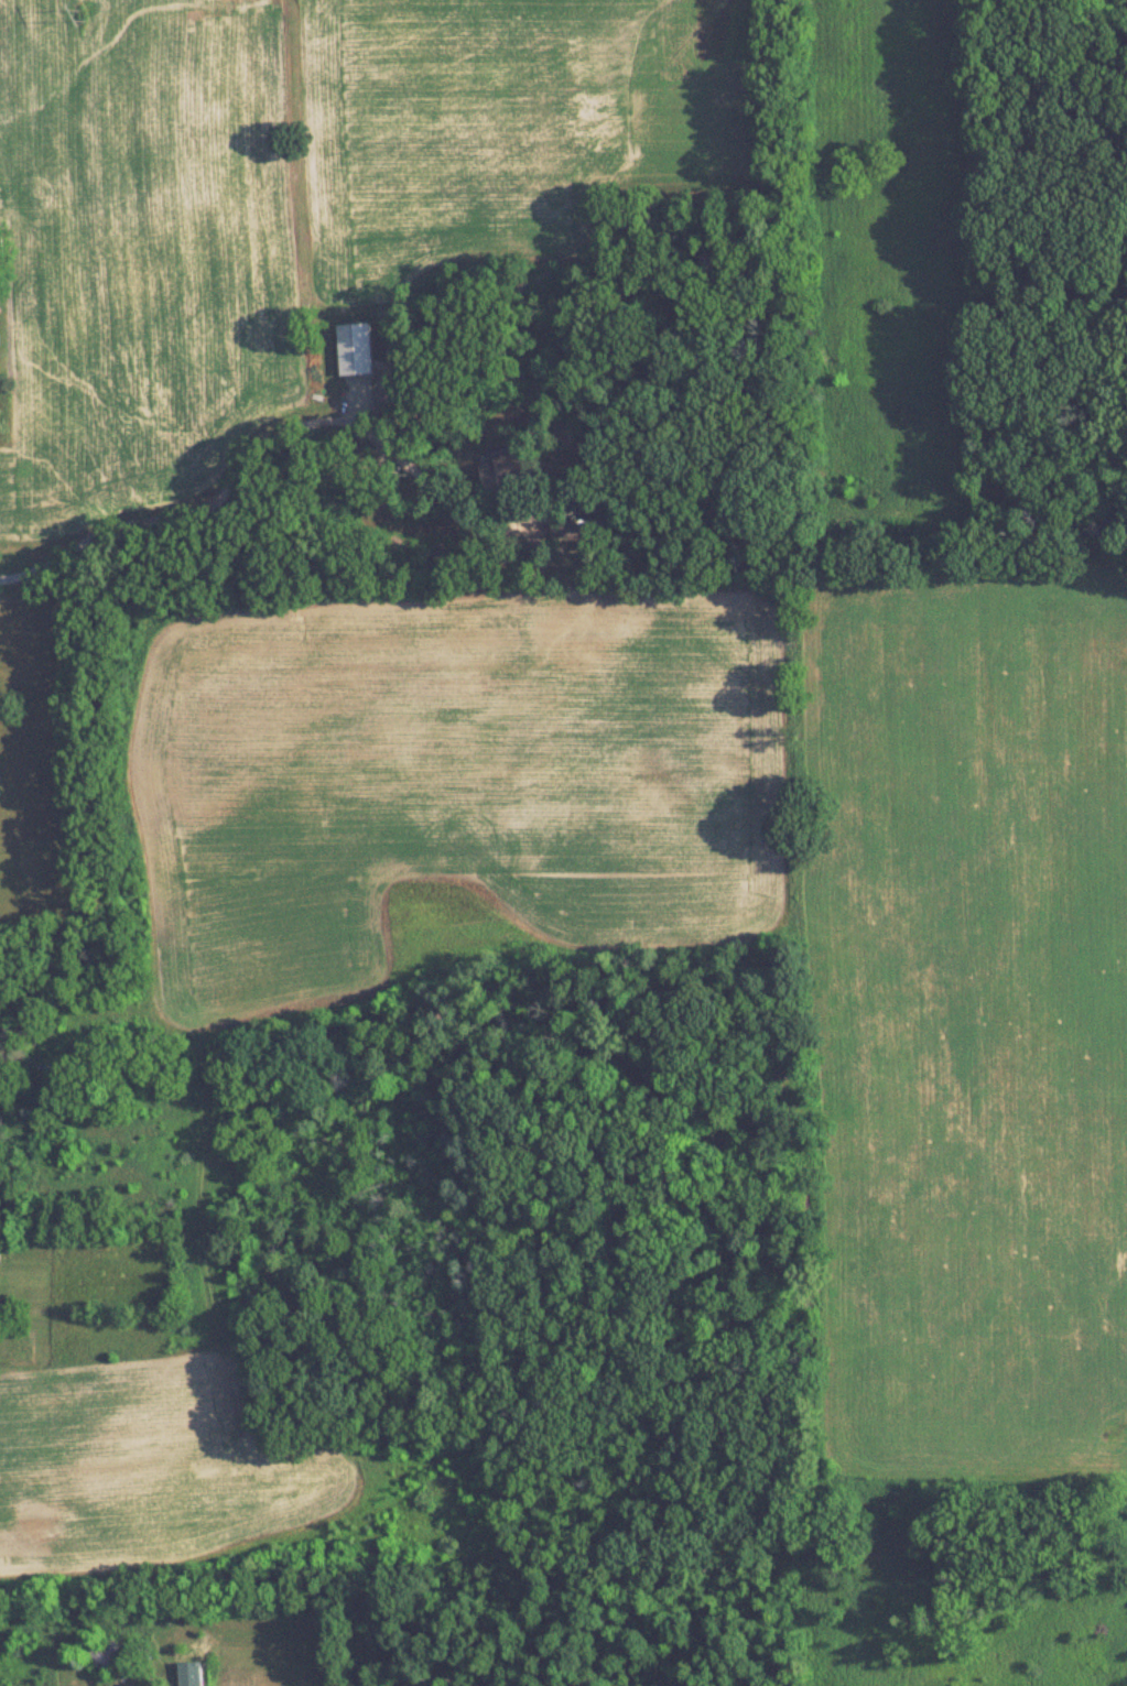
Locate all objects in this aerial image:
power tower: (76, 14)
building: (509, 467)
road: (245, 487)
building: (102, 1653)
building: (193, 1673)

